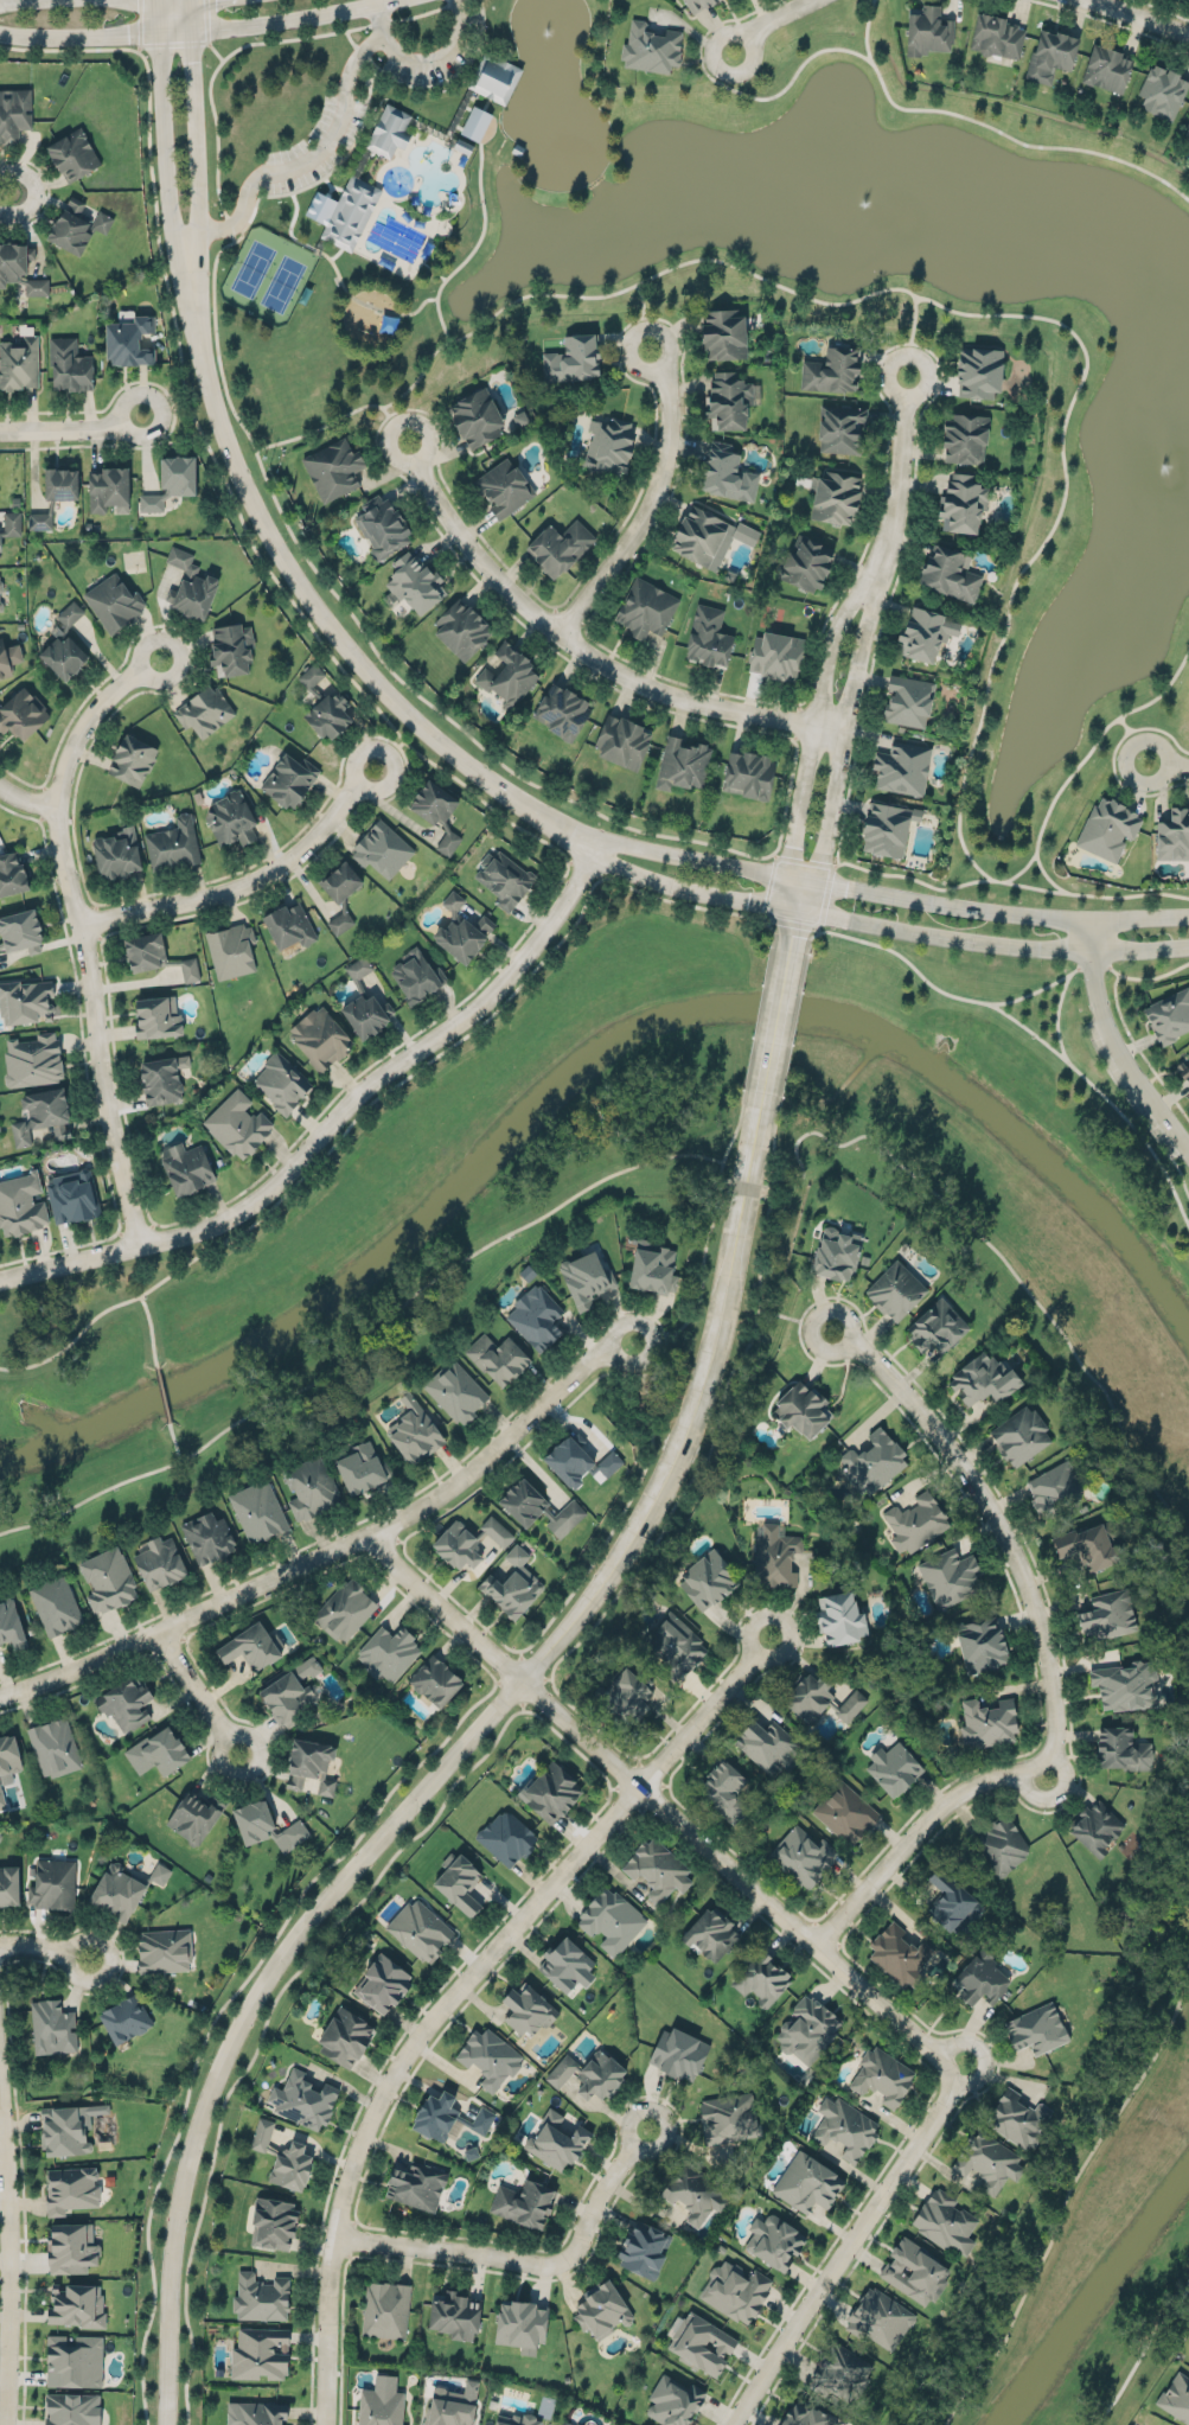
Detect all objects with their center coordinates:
road: (5, 1)
building: (696, 4)
road: (1164, 7)
road: (1140, 17)
road: (725, 18)
road: (204, 20)
road: (143, 21)
road: (280, 21)
road: (769, 21)
road: (1116, 23)
road: (865, 28)
building: (927, 30)
building: (997, 36)
road: (78, 37)
road: (181, 42)
road: (245, 44)
road: (504, 44)
building: (651, 47)
building: (1050, 55)
road: (422, 63)
building: (1106, 69)
building: (494, 76)
road: (432, 82)
road: (620, 90)
building: (1162, 91)
road: (904, 108)
building: (14, 113)
building: (475, 122)
building: (389, 130)
building: (1187, 132)
road: (196, 140)
road: (162, 141)
building: (72, 154)
road: (294, 166)
road: (325, 174)
road: (34, 192)
road: (46, 192)
building: (350, 212)
road: (324, 218)
building: (101, 222)
road: (482, 225)
building: (70, 226)
road: (669, 267)
building: (20, 268)
road: (369, 305)
road: (643, 315)
building: (723, 333)
building: (128, 340)
road: (216, 344)
building: (571, 360)
building: (18, 363)
building: (69, 365)
building: (831, 371)
building: (978, 371)
road: (174, 404)
road: (172, 407)
road: (338, 417)
building: (475, 417)
road: (69, 427)
building: (840, 429)
building: (965, 438)
building: (608, 446)
road: (215, 457)
building: (333, 468)
building: (724, 473)
road: (899, 479)
building: (171, 481)
building: (504, 487)
building: (107, 489)
building: (53, 494)
building: (833, 497)
road: (650, 503)
building: (961, 503)
building: (11, 523)
building: (382, 527)
road: (1049, 530)
road: (442, 534)
building: (708, 536)
building: (558, 547)
building: (807, 564)
building: (950, 573)
building: (415, 582)
building: (0, 586)
building: (190, 587)
building: (113, 602)
building: (0, 606)
building: (645, 608)
road: (318, 613)
building: (461, 627)
building: (925, 633)
building: (708, 637)
building: (64, 646)
road: (582, 647)
building: (231, 650)
building: (775, 655)
building: (8, 657)
building: (311, 675)
building: (506, 675)
road: (663, 681)
building: (908, 700)
building: (204, 710)
building: (562, 711)
building: (23, 714)
building: (328, 716)
road: (814, 723)
road: (1163, 729)
road: (845, 733)
road: (1098, 736)
building: (621, 742)
road: (391, 746)
building: (132, 759)
road: (1112, 761)
building: (682, 764)
road: (1166, 764)
building: (901, 767)
building: (748, 774)
building: (289, 779)
road: (1169, 785)
road: (25, 800)
road: (53, 804)
building: (437, 812)
building: (230, 818)
building: (886, 828)
building: (1108, 828)
road: (294, 832)
building: (1174, 835)
building: (172, 844)
building: (382, 849)
building: (116, 854)
road: (705, 859)
road: (596, 862)
road: (1022, 867)
road: (1044, 874)
building: (12, 875)
building: (503, 878)
road: (829, 878)
road: (1008, 881)
road: (245, 882)
road: (688, 892)
building: (339, 893)
road: (791, 894)
road: (806, 896)
road: (1002, 912)
road: (81, 923)
building: (289, 925)
road: (82, 930)
building: (461, 930)
road: (791, 930)
building: (20, 931)
road: (990, 943)
building: (145, 951)
building: (230, 951)
road: (1093, 965)
building: (188, 969)
building: (358, 970)
building: (416, 976)
road: (1153, 976)
road: (1036, 989)
building: (26, 1001)
building: (366, 1014)
building: (1169, 1015)
road: (1056, 1016)
building: (156, 1017)
road: (757, 1023)
road: (773, 1027)
road: (1024, 1027)
road: (790, 1030)
building: (319, 1038)
road: (1114, 1045)
road: (1137, 1045)
building: (1188, 1055)
building: (32, 1059)
river: (593, 1059)
road: (84, 1065)
building: (1183, 1071)
road: (353, 1077)
building: (161, 1078)
building: (282, 1083)
road: (395, 1085)
road: (1137, 1110)
building: (41, 1115)
road: (334, 1119)
building: (237, 1124)
building: (186, 1167)
road: (743, 1186)
building: (72, 1196)
building: (21, 1202)
road: (1188, 1220)
road: (705, 1239)
building: (836, 1256)
building: (652, 1269)
road: (1017, 1274)
building: (586, 1278)
building: (895, 1291)
building: (536, 1316)
road: (794, 1317)
building: (937, 1327)
road: (151, 1330)
road: (364, 1340)
building: (498, 1358)
road: (619, 1370)
building: (983, 1380)
building: (456, 1391)
road: (162, 1392)
building: (803, 1410)
building: (414, 1431)
building: (1019, 1435)
road: (173, 1437)
building: (874, 1459)
building: (578, 1462)
building: (359, 1469)
road: (688, 1481)
building: (1054, 1486)
building: (309, 1487)
building: (258, 1511)
building: (539, 1511)
building: (916, 1519)
building: (207, 1537)
building: (1091, 1540)
building: (467, 1543)
road: (334, 1547)
building: (774, 1557)
building: (159, 1564)
building: (708, 1575)
building: (950, 1576)
building: (107, 1581)
building: (512, 1584)
building: (55, 1604)
road: (1018, 1604)
building: (344, 1609)
building: (842, 1613)
building: (1107, 1614)
building: (11, 1625)
building: (980, 1640)
building: (673, 1646)
building: (251, 1649)
building: (388, 1652)
road: (1046, 1667)
road: (536, 1678)
building: (435, 1680)
building: (1125, 1680)
road: (196, 1691)
building: (290, 1691)
building: (626, 1695)
building: (818, 1698)
building: (124, 1702)
building: (989, 1719)
building: (767, 1741)
building: (53, 1747)
building: (1123, 1747)
building: (9, 1750)
building: (158, 1751)
building: (314, 1757)
road: (447, 1762)
building: (894, 1763)
building: (552, 1787)
building: (725, 1787)
building: (1, 1797)
road: (660, 1805)
building: (845, 1812)
building: (194, 1813)
building: (1097, 1824)
building: (267, 1826)
building: (506, 1837)
building: (1001, 1845)
building: (803, 1856)
building: (657, 1868)
building: (53, 1882)
building: (458, 1882)
building: (8, 1885)
building: (122, 1889)
building: (951, 1898)
building: (611, 1920)
building: (420, 1927)
building: (710, 1931)
road: (44, 1946)
building: (164, 1949)
building: (900, 1954)
building: (565, 1961)
building: (979, 1977)
building: (761, 1978)
building: (382, 1983)
road: (456, 1987)
building: (528, 2005)
building: (126, 2015)
building: (52, 2027)
building: (808, 2027)
building: (1036, 2028)
building: (344, 2034)
building: (677, 2049)
building: (490, 2054)
building: (588, 2070)
building: (882, 2075)
road: (995, 2075)
building: (303, 2098)
building: (435, 2116)
building: (729, 2116)
building: (482, 2118)
building: (1017, 2118)
building: (65, 2125)
building: (845, 2125)
building: (557, 2137)
building: (282, 2155)
building: (989, 2161)
building: (807, 2180)
building: (416, 2183)
building: (70, 2189)
building: (695, 2189)
road: (1066, 2195)
building: (524, 2199)
building: (274, 2219)
building: (945, 2219)
building: (774, 2241)
building: (71, 2244)
building: (643, 2248)
road: (844, 2251)
road: (8, 2260)
road: (531, 2260)
building: (914, 2272)
building: (736, 2287)
building: (261, 2296)
building: (78, 2302)
river: (1097, 2302)
building: (603, 2306)
building: (386, 2308)
building: (455, 2311)
building: (878, 2315)
building: (522, 2323)
building: (701, 2340)
building: (260, 2351)
road: (1140, 2351)
building: (75, 2359)
building: (839, 2374)
building: (1176, 2397)
building: (675, 2399)
building: (382, 2406)
building: (72, 2407)
building: (450, 2407)
building: (255, 2412)
building: (807, 2413)
building: (517, 2418)
building: (569, 2421)

